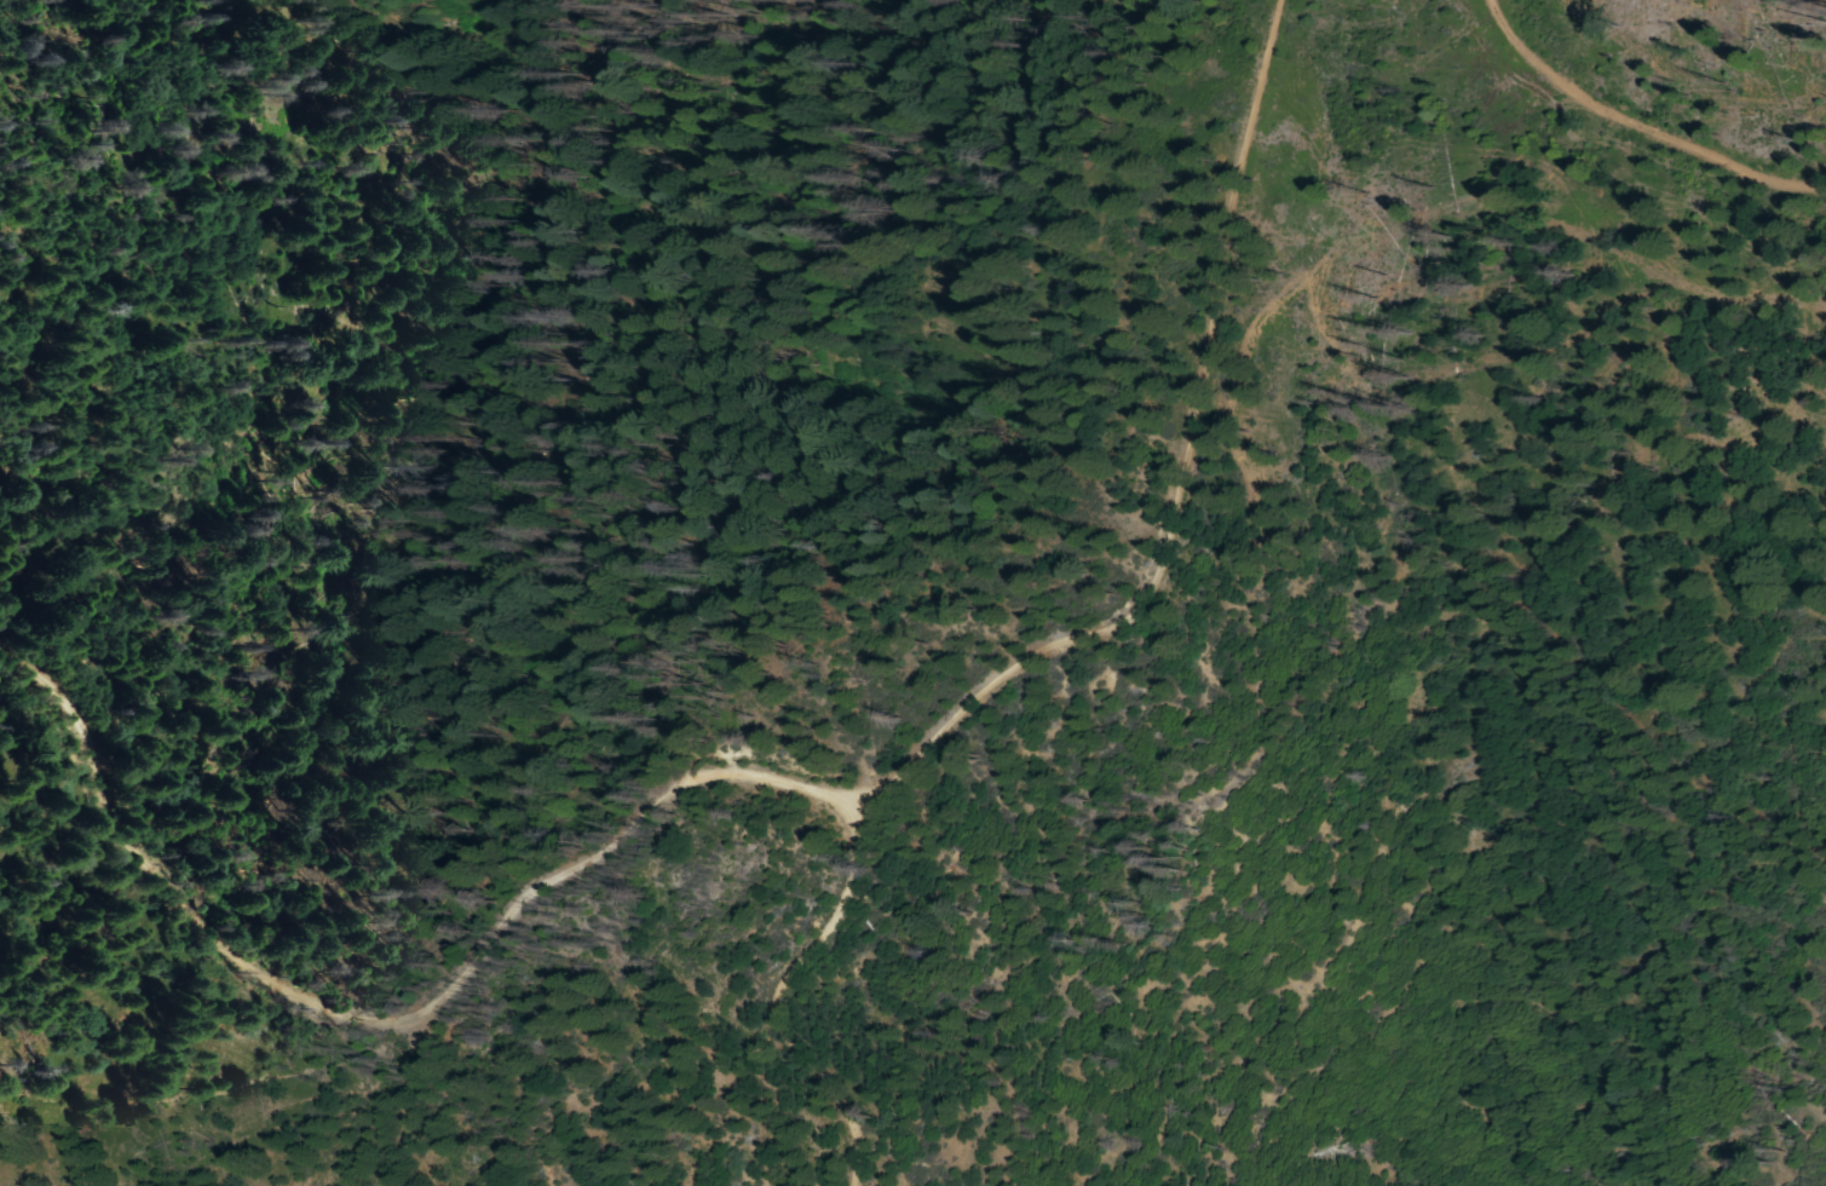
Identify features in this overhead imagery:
road: (1186, 479)
road: (782, 997)
road: (386, 1020)

